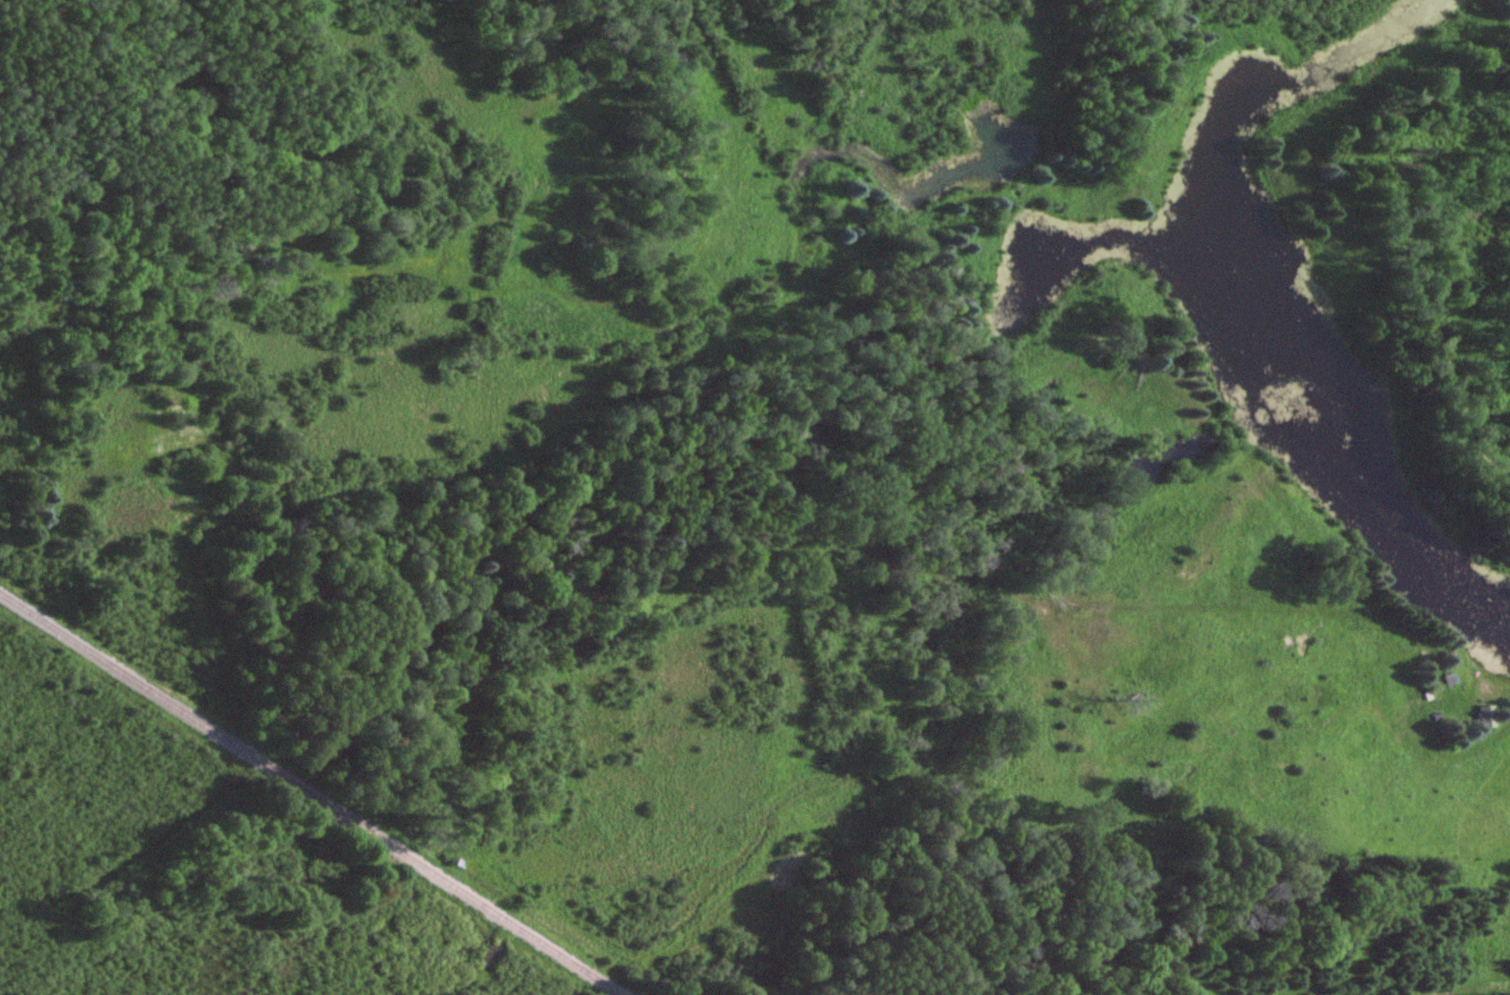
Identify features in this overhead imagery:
building: (1005, 325)
building: (1486, 716)
railway: (313, 792)

